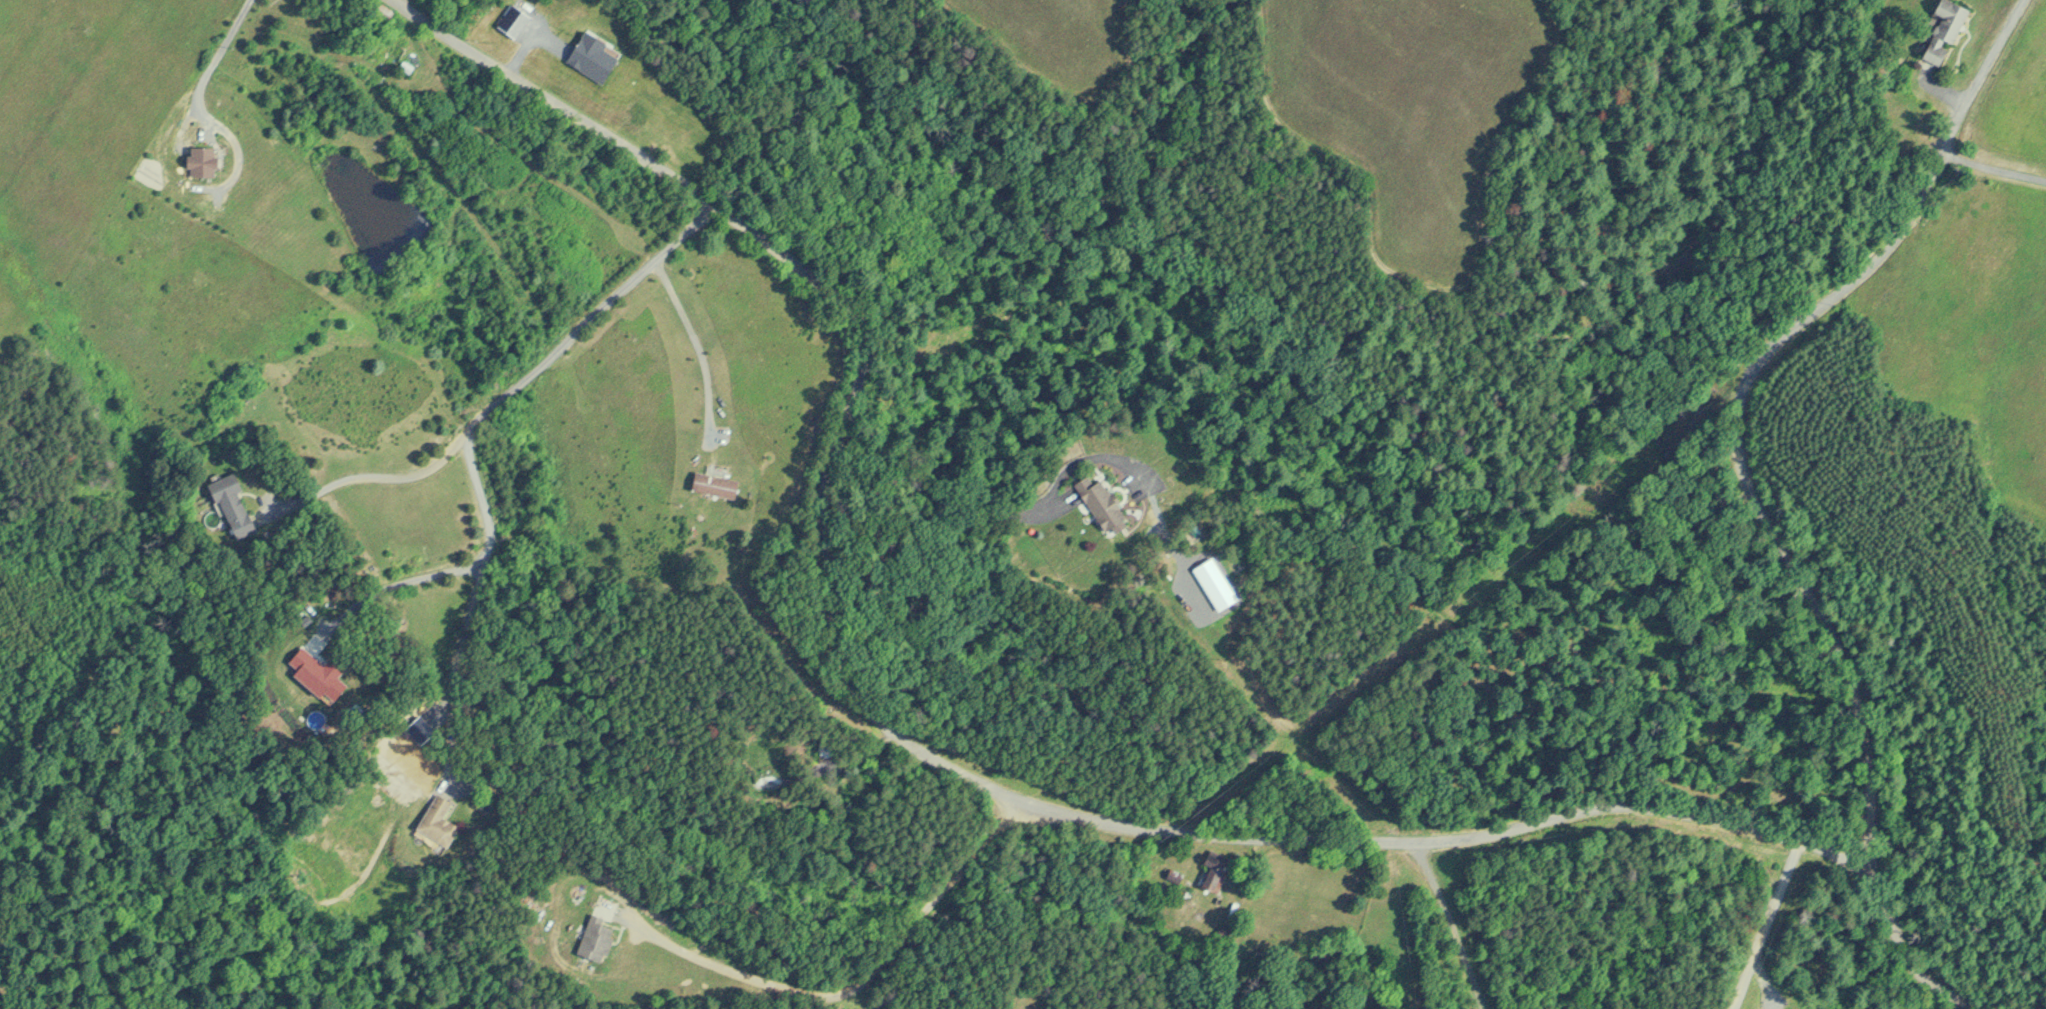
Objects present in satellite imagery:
building: (1940, 30)
building: (394, 51)
road: (214, 57)
crop: (79, 117)
building: (208, 160)
road: (1992, 173)
road: (697, 343)
road: (539, 365)
road: (1753, 370)
road: (372, 474)
building: (709, 483)
building: (1093, 499)
building: (234, 503)
road: (392, 585)
building: (325, 670)
road: (893, 737)
road: (447, 757)
building: (442, 821)
road: (1871, 845)
building: (1204, 871)
building: (1169, 873)
road: (1454, 923)
road: (1769, 925)
building: (588, 938)
road: (1901, 958)
road: (859, 983)

